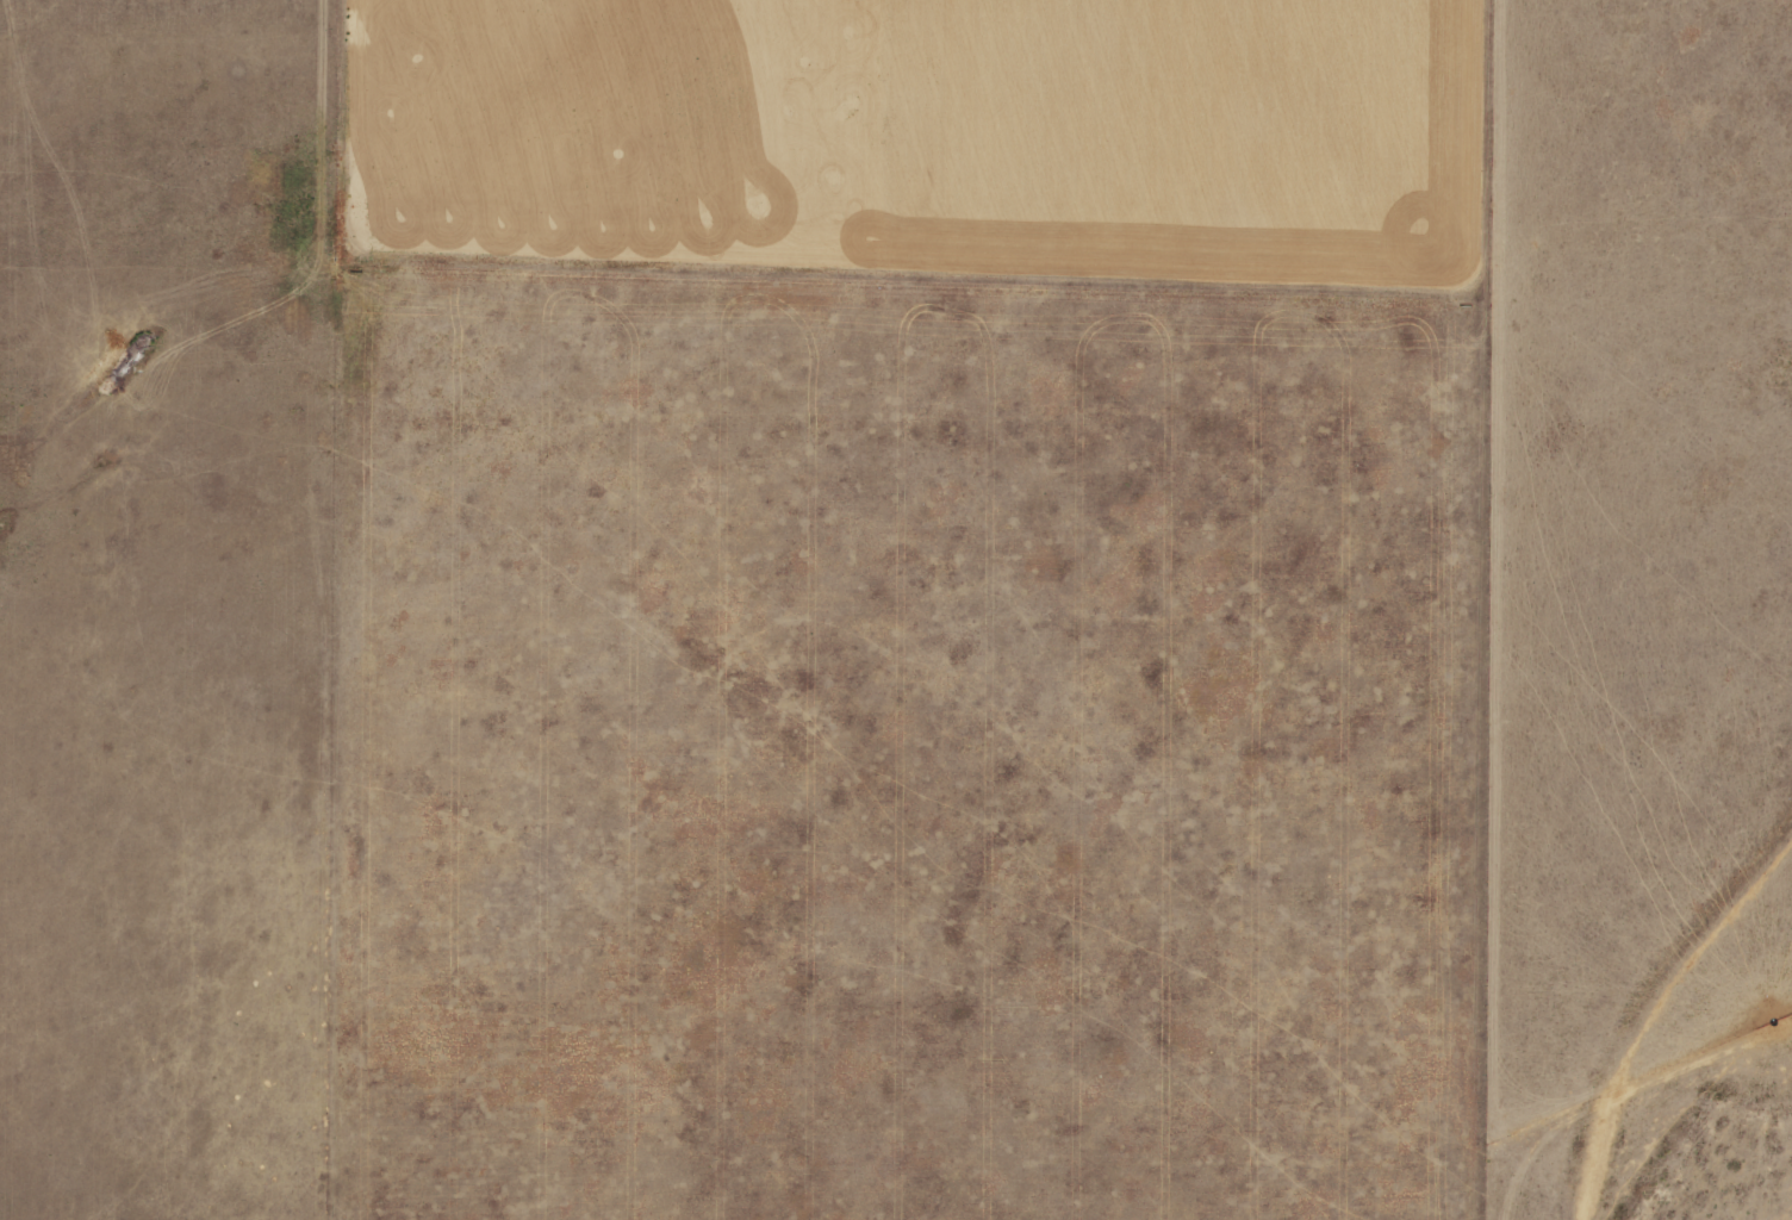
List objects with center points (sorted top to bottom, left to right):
road: (1524, 1219)

